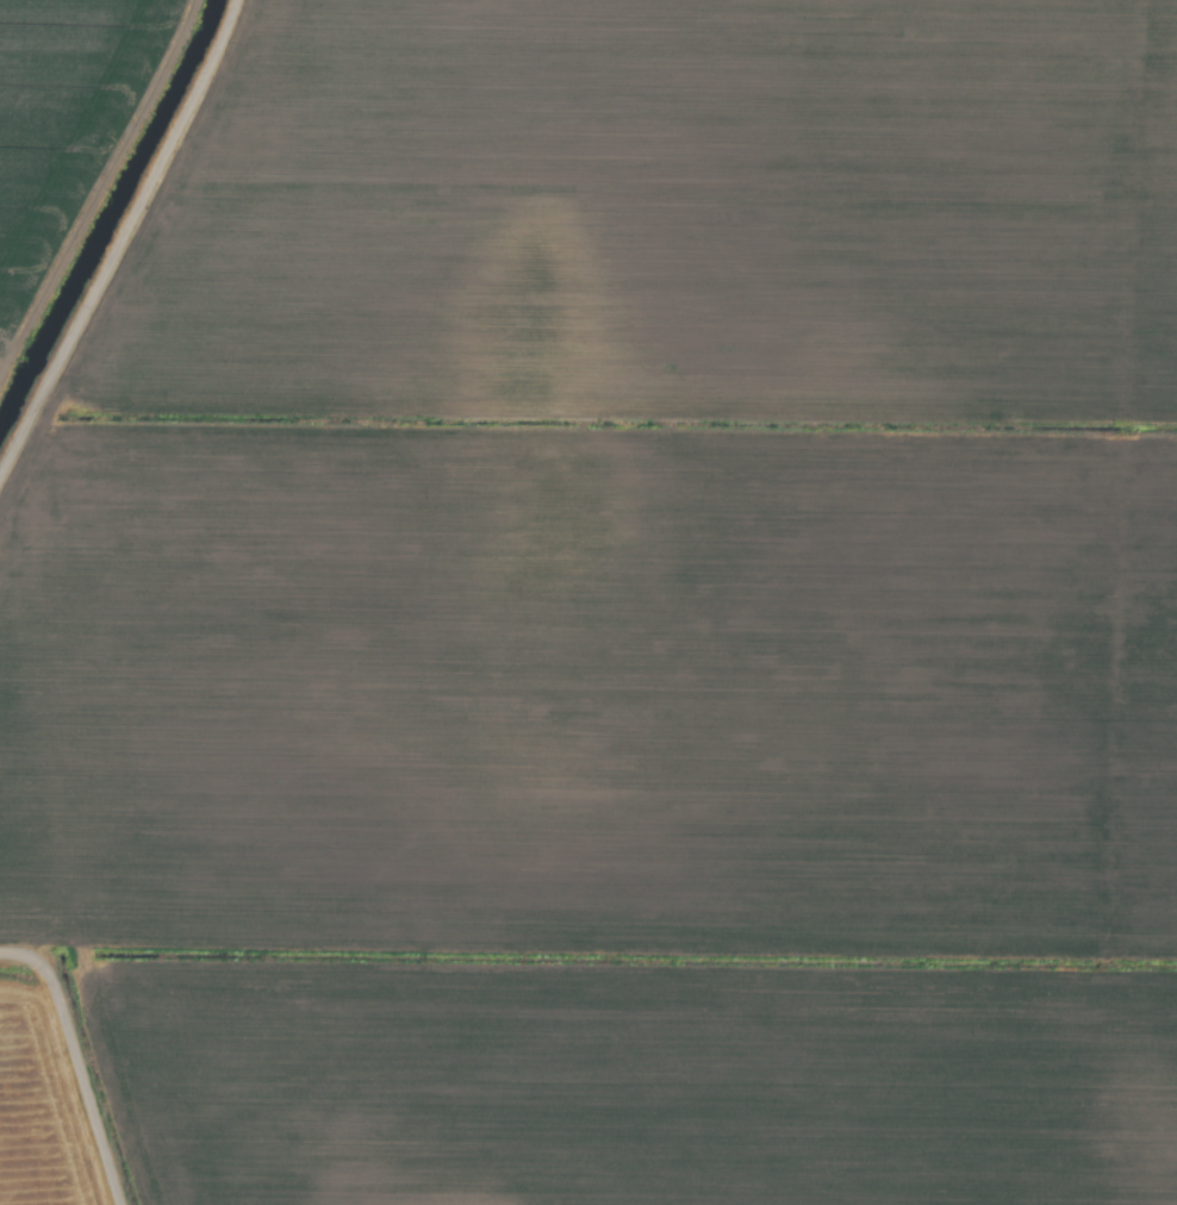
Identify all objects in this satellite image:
crop: (588, 602)

